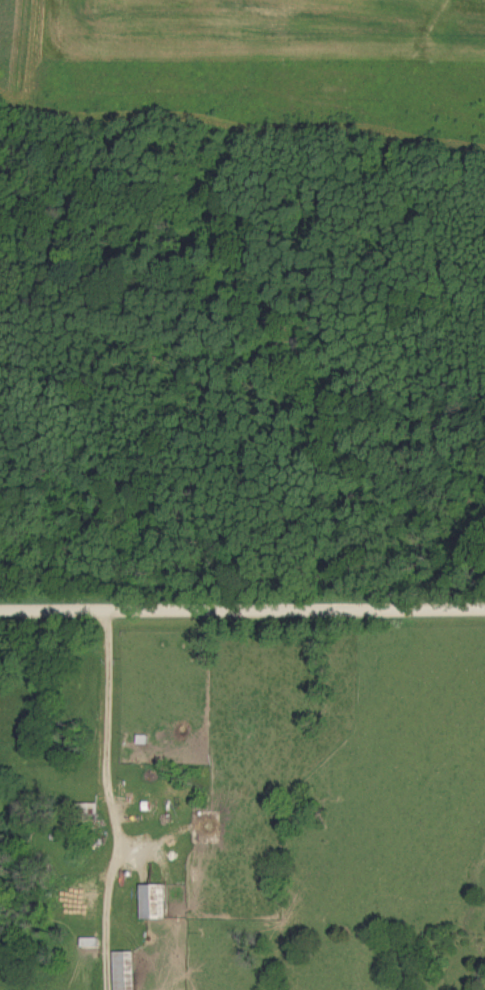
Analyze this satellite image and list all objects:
road: (242, 611)
road: (110, 802)
building: (157, 903)
building: (128, 971)

